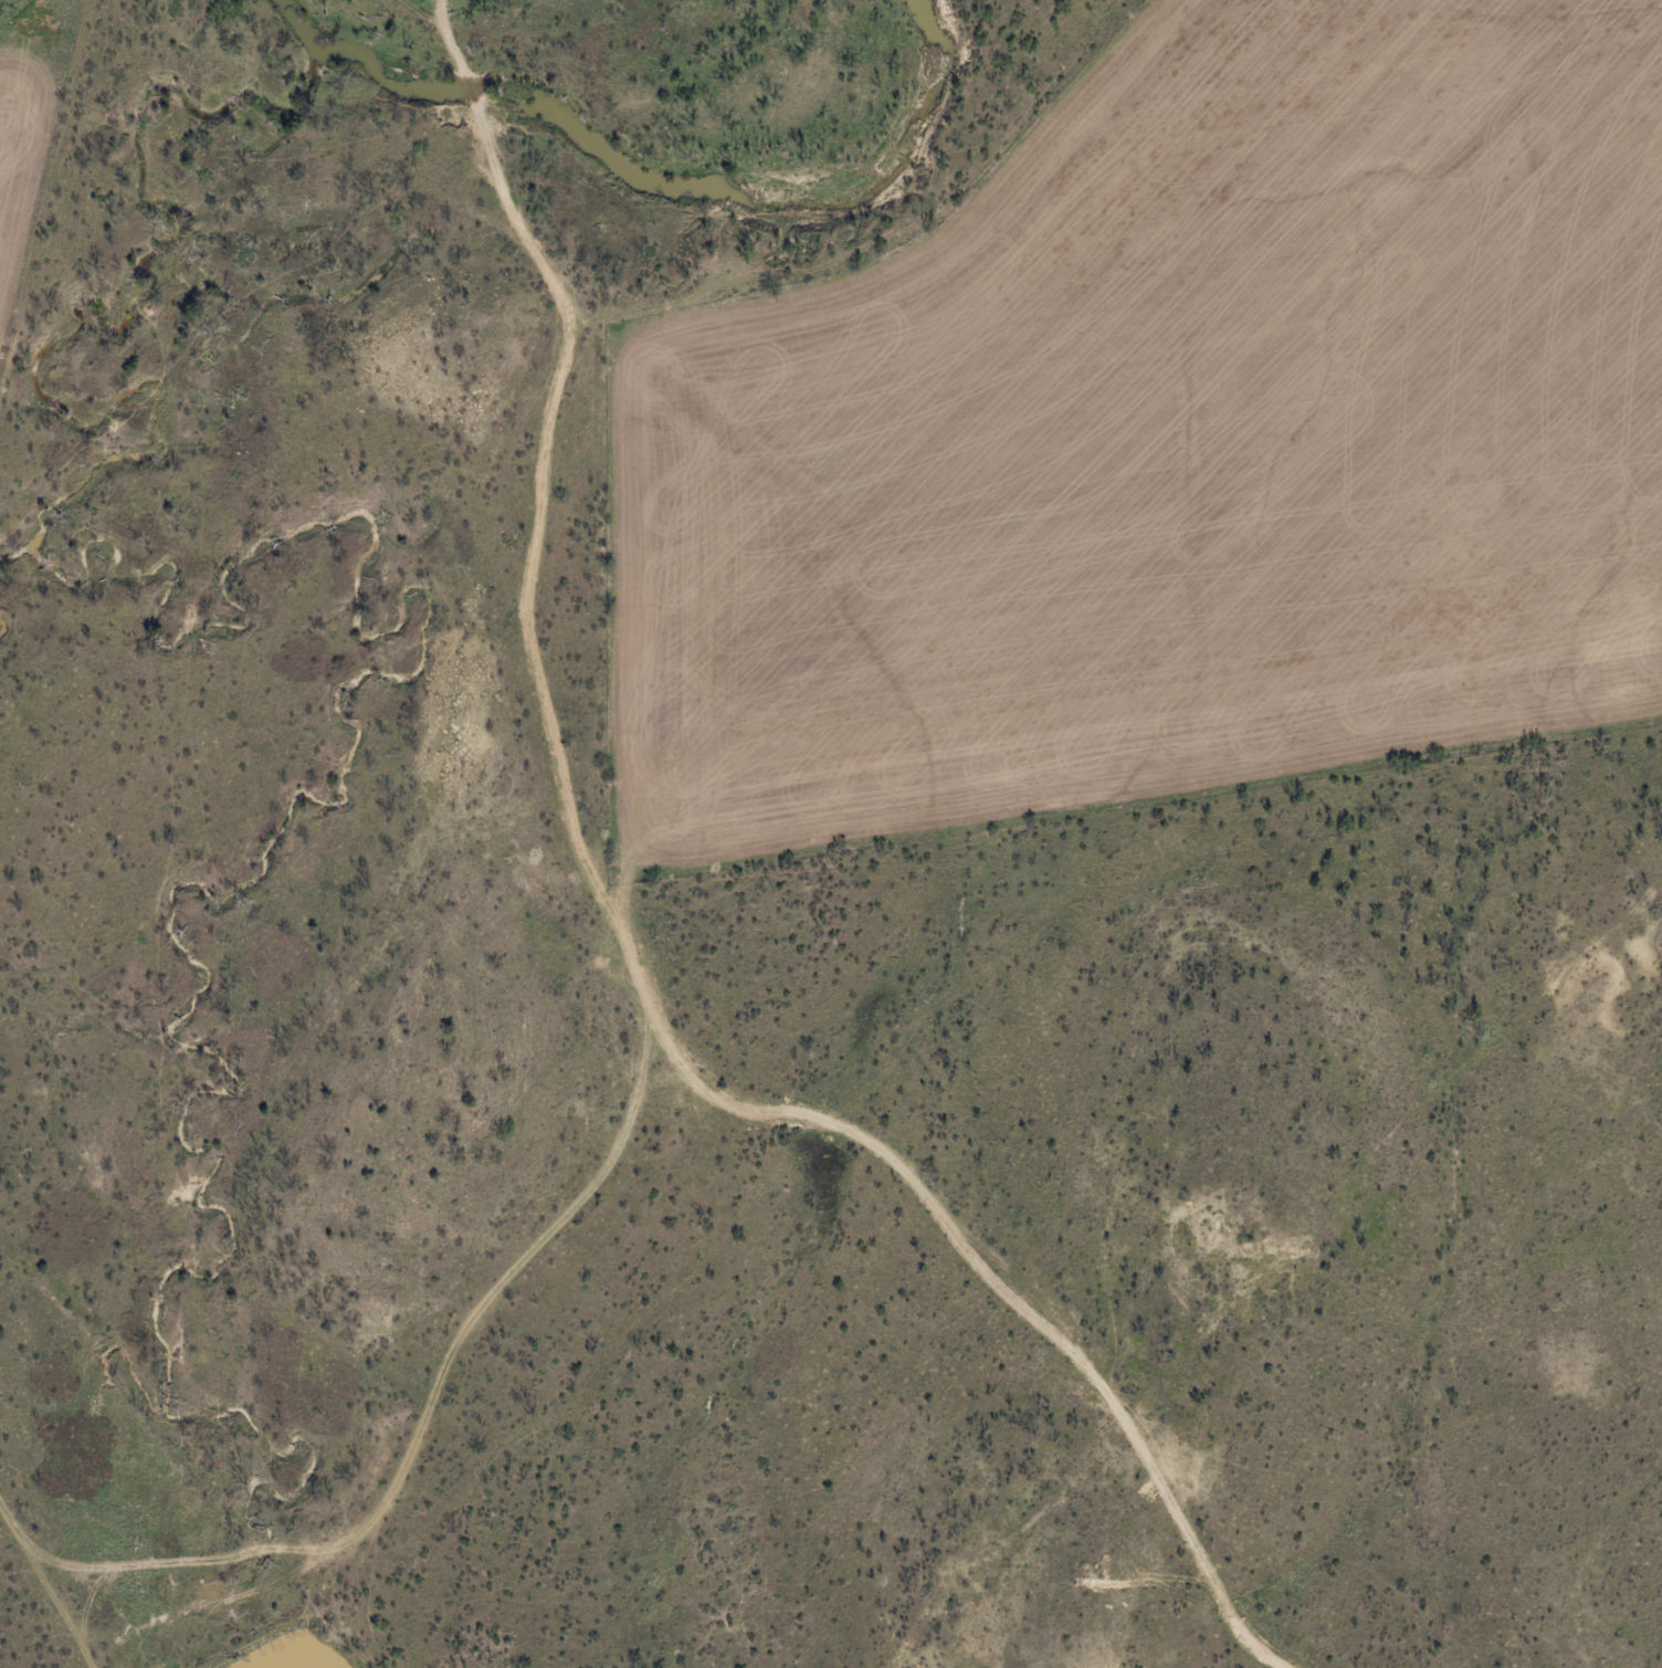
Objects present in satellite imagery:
road: (620, 961)
road: (421, 1379)
road: (59, 1592)

